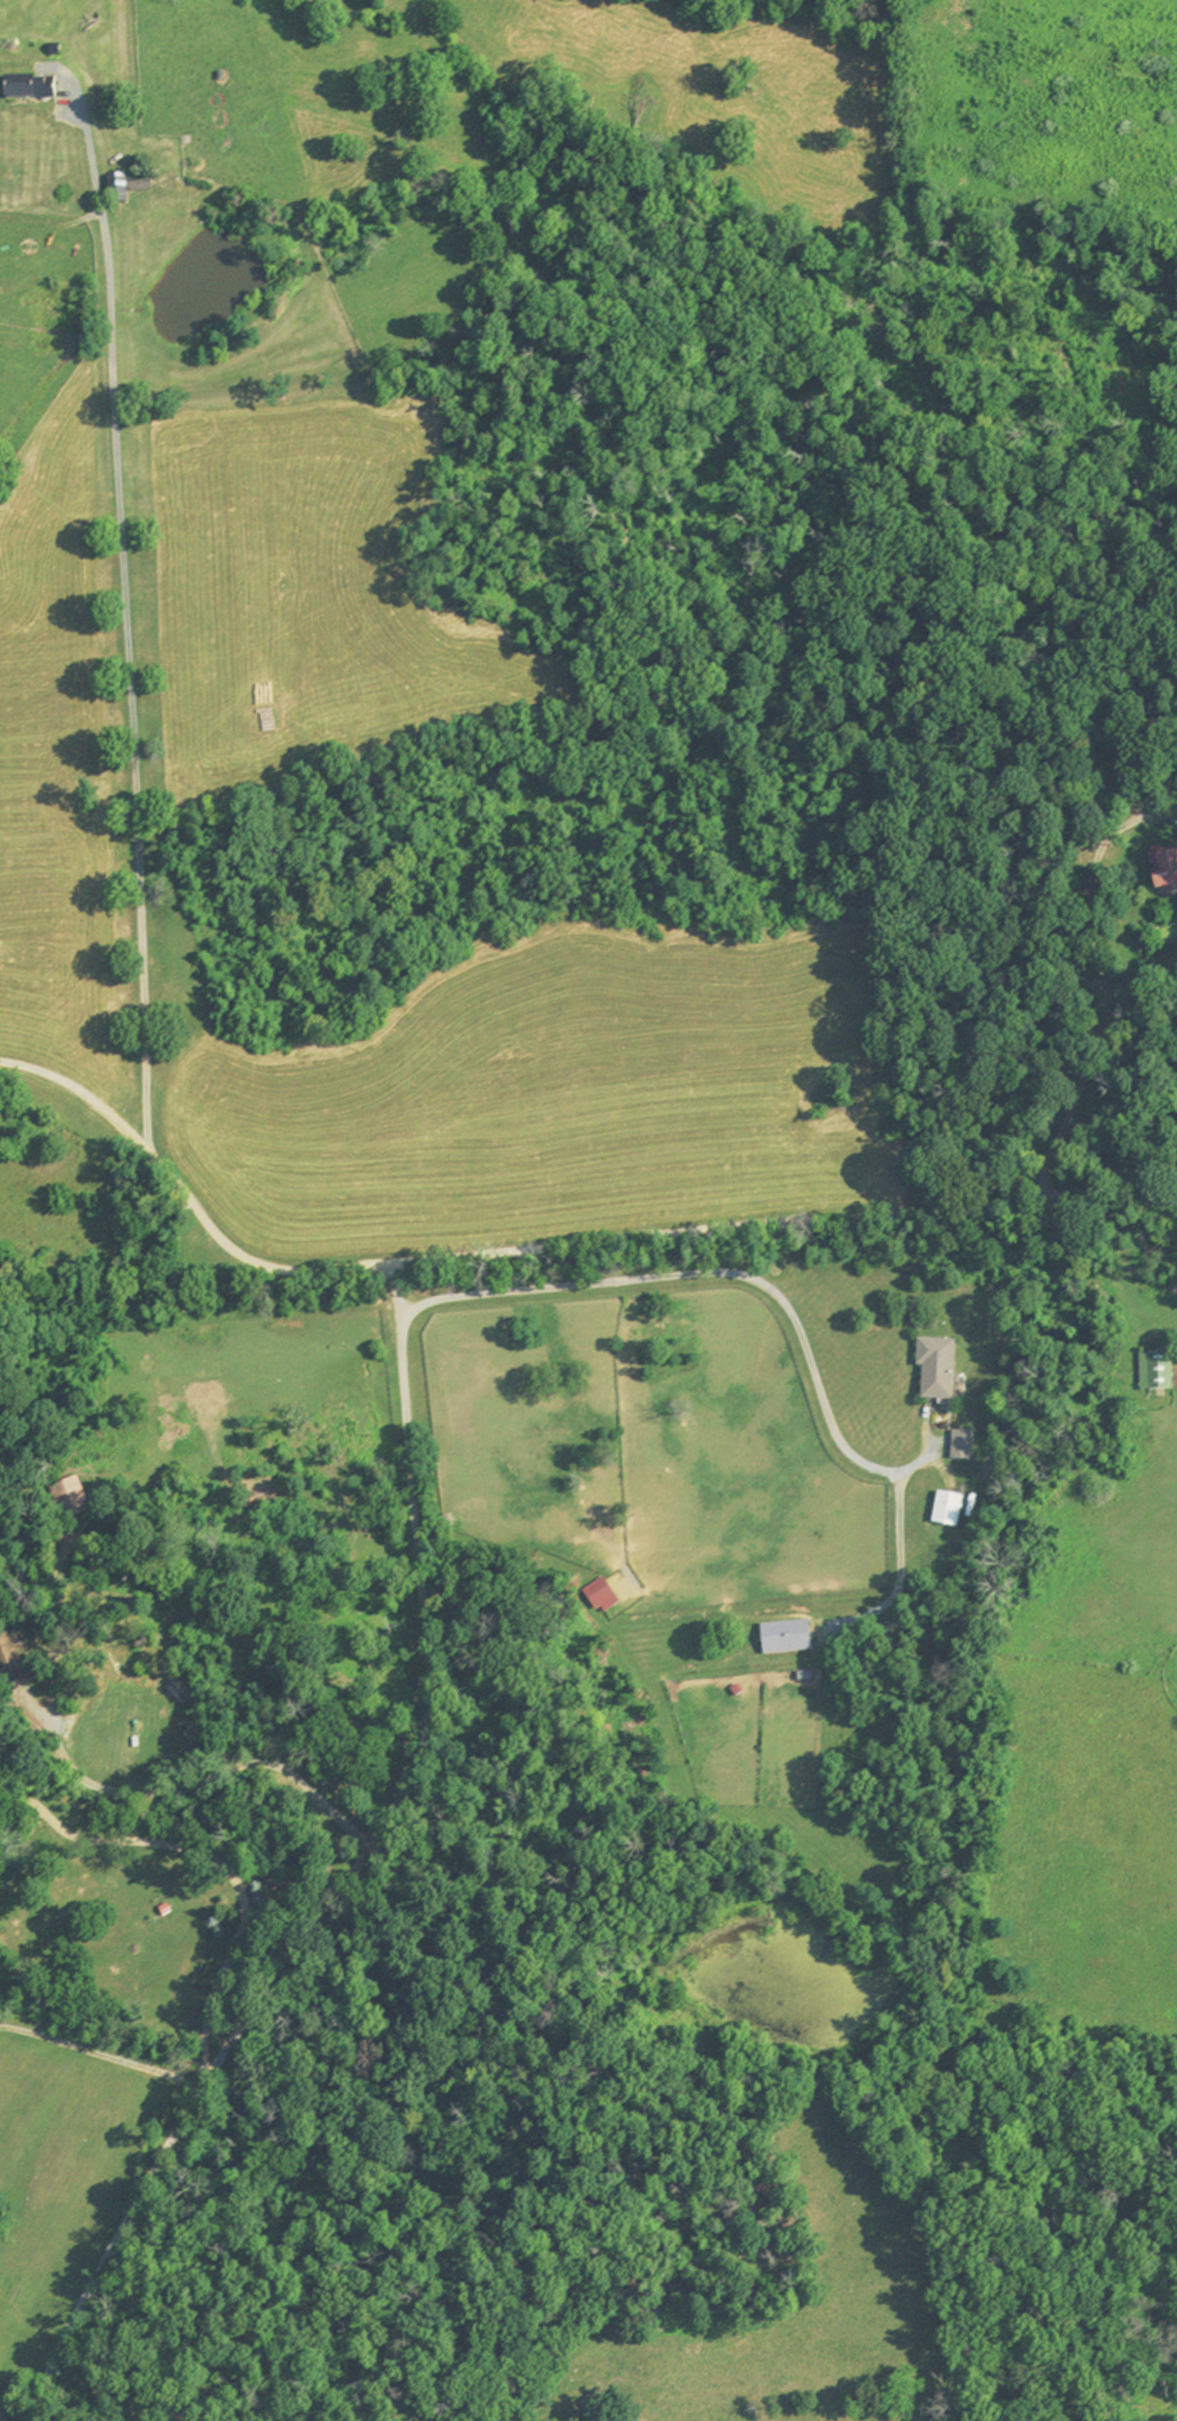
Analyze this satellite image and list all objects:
building: (32, 88)
building: (119, 189)
road: (132, 667)
building: (1166, 868)
road: (1100, 995)
road: (557, 1254)
road: (710, 1272)
building: (939, 1369)
building: (1158, 1371)
building: (965, 1446)
crop: (650, 1448)
building: (75, 1501)
building: (951, 1510)
building: (603, 1598)
building: (788, 1639)
building: (7, 1656)
crop: (751, 1735)
road: (206, 1776)
road: (220, 1864)
road: (350, 1878)
road: (104, 2052)
road: (0, 2420)

